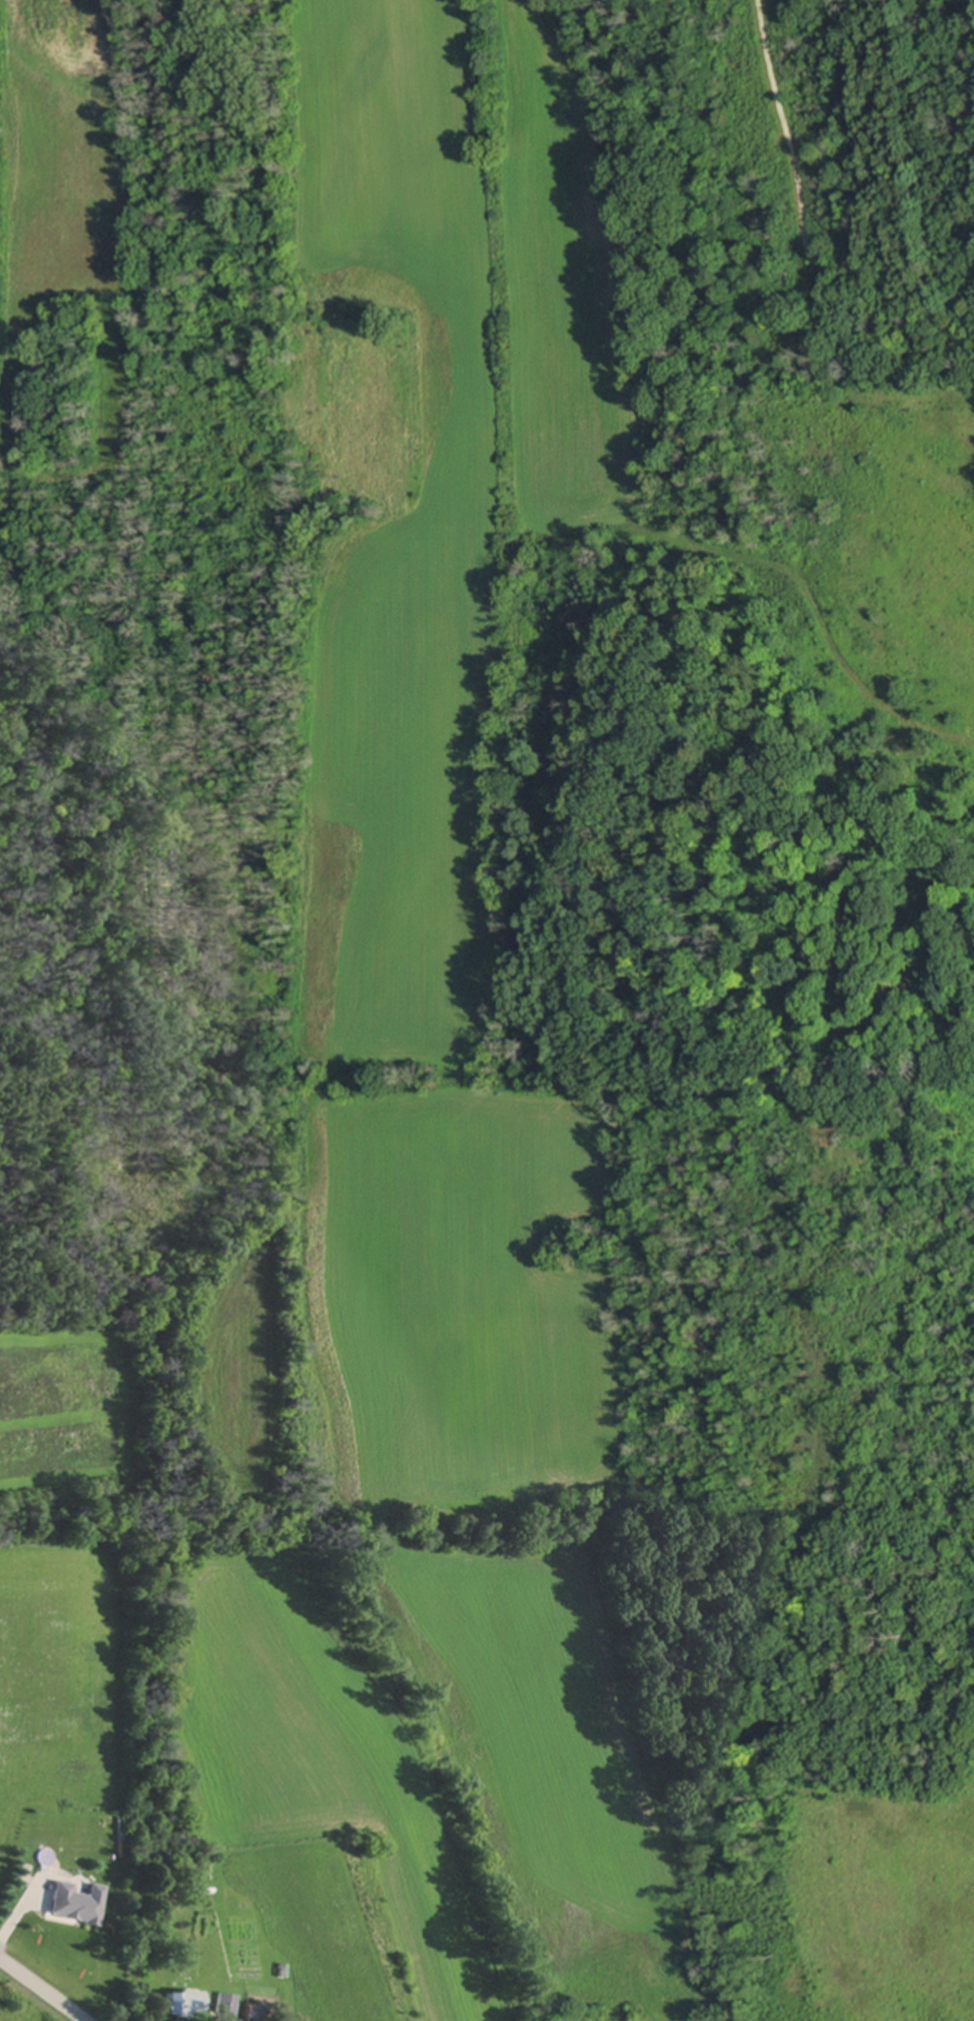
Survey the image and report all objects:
road: (42, 1989)
building: (179, 2004)
building: (225, 2004)
building: (252, 2013)

